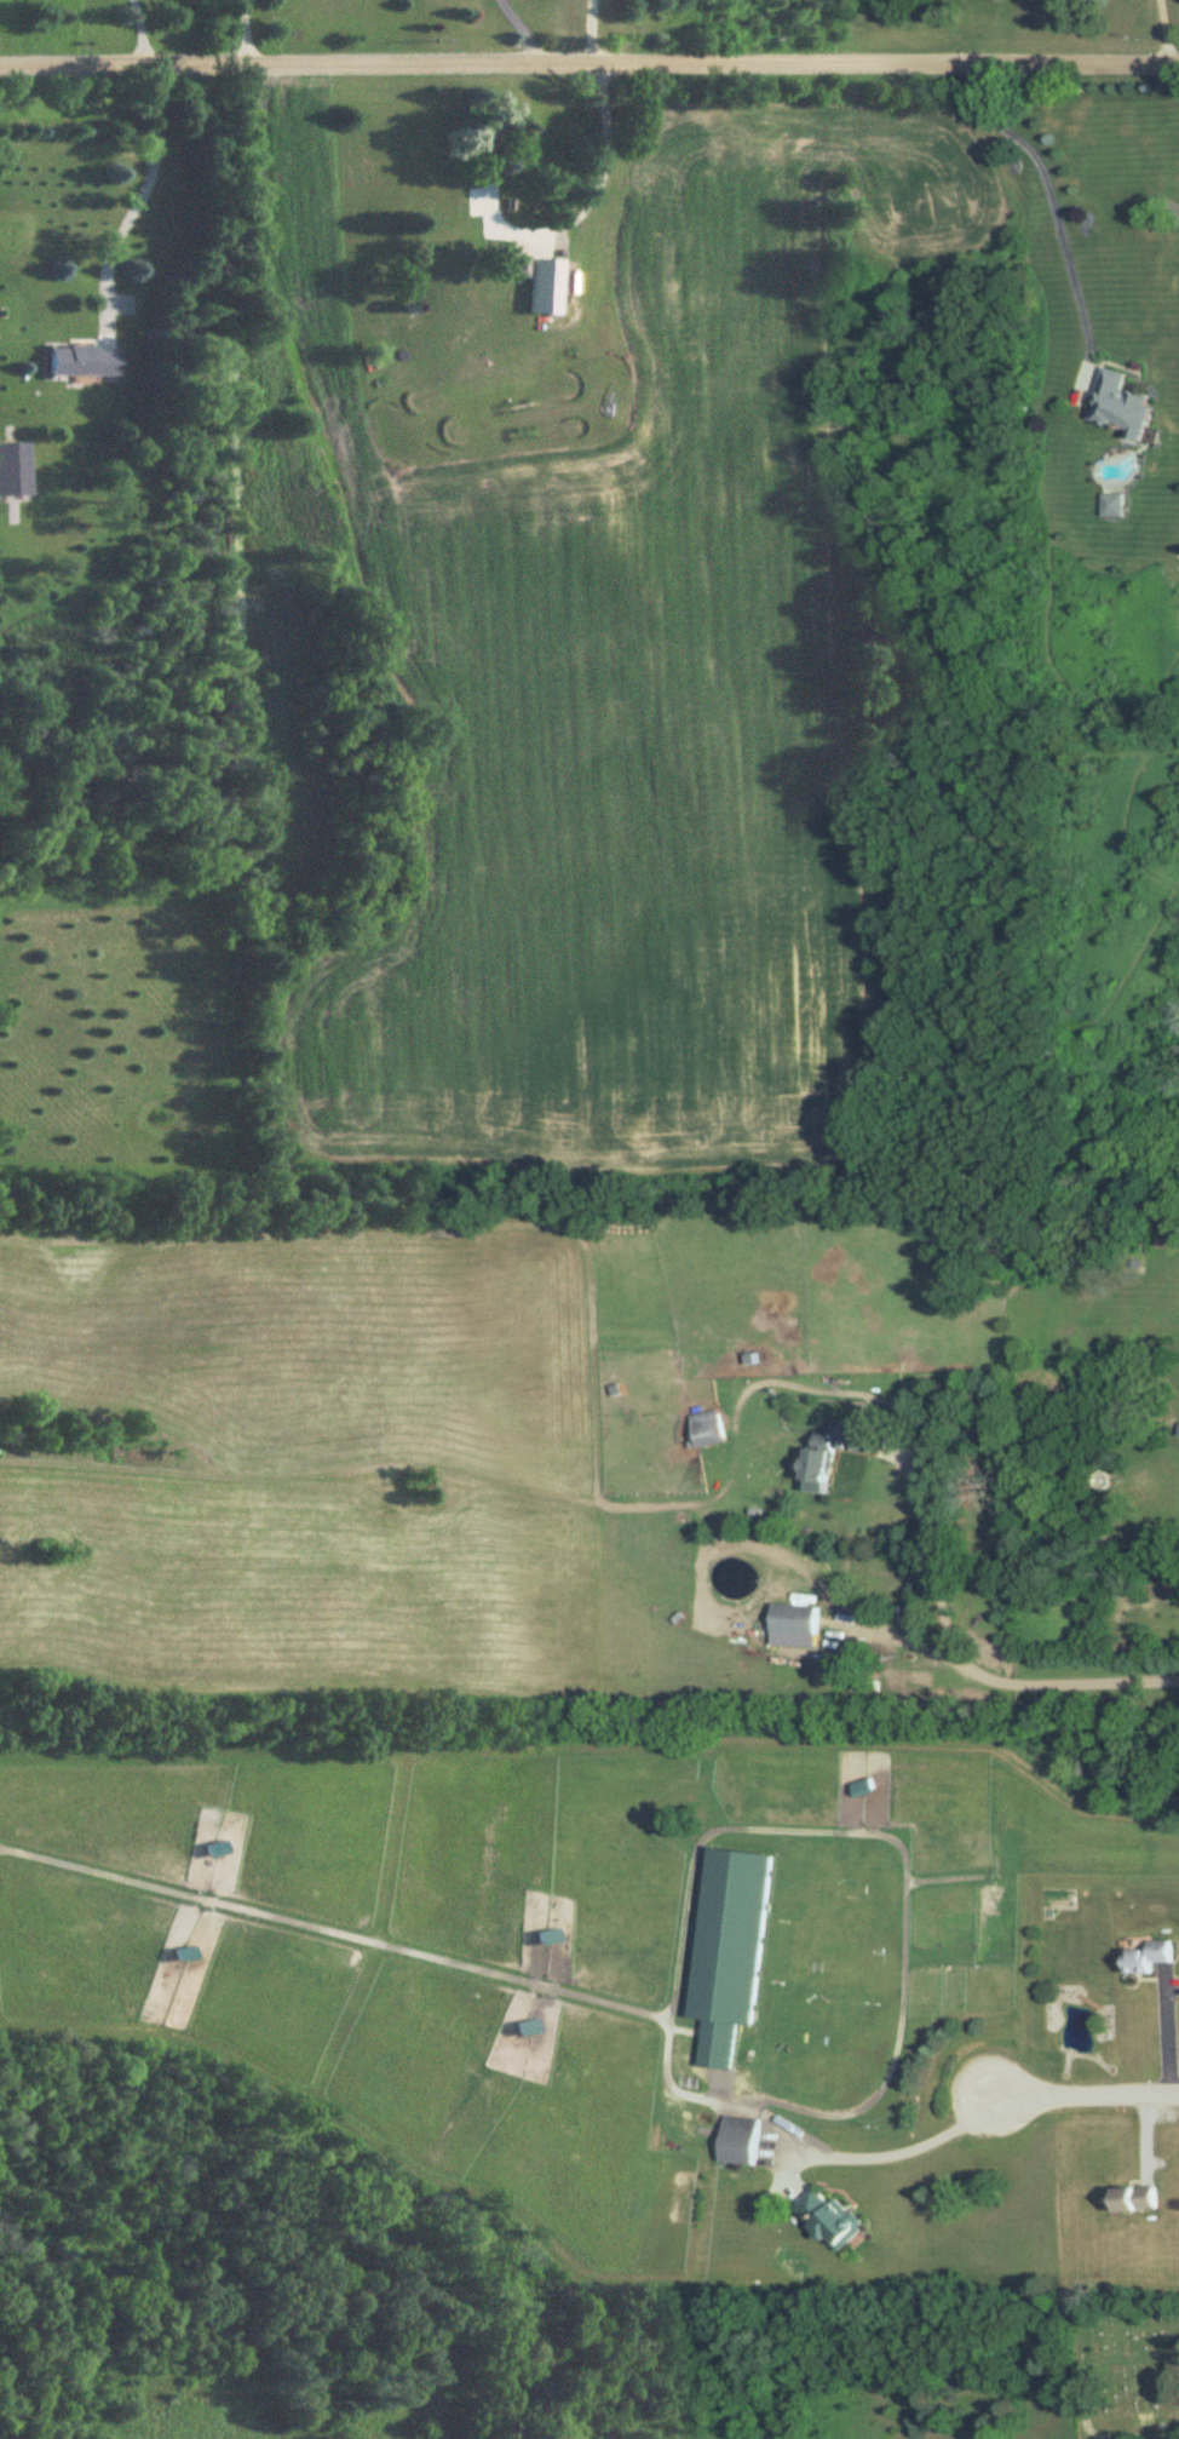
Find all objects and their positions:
road: (523, 27)
road: (596, 28)
road: (144, 29)
road: (247, 29)
road: (588, 57)
building: (494, 138)
road: (144, 179)
road: (1047, 186)
road: (588, 201)
building: (432, 283)
building: (87, 361)
building: (1116, 406)
building: (15, 470)
building: (707, 1429)
building: (832, 1446)
building: (795, 1619)
road: (955, 1655)
building: (1148, 1955)
road: (1169, 2032)
road: (1088, 2095)
building: (740, 2134)
road: (1148, 2135)
road: (884, 2156)
building: (1133, 2198)
building: (826, 2219)
road: (1131, 2359)
park: (1127, 2361)
road: (1086, 2412)

